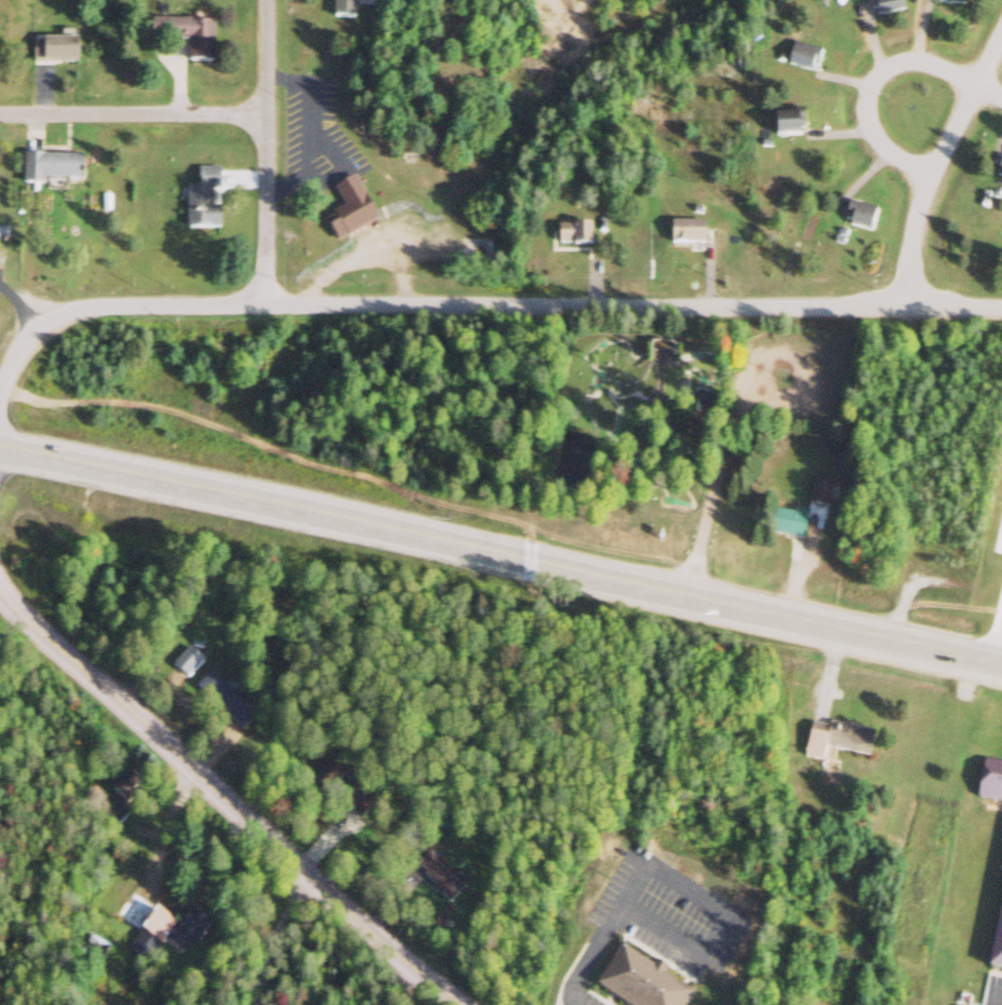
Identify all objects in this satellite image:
building: (949, 4)
building: (885, 8)
building: (351, 10)
road: (584, 10)
road: (607, 10)
building: (194, 39)
building: (61, 52)
building: (801, 61)
road: (869, 91)
road: (989, 95)
road: (133, 113)
building: (785, 128)
road: (267, 151)
road: (527, 165)
road: (934, 168)
building: (59, 169)
building: (999, 172)
building: (213, 200)
building: (359, 212)
building: (859, 219)
building: (5, 234)
building: (684, 235)
building: (571, 238)
road: (479, 305)
road: (21, 306)
road: (496, 520)
road: (336, 523)
building: (786, 525)
road: (837, 632)
building: (220, 699)
building: (835, 744)
building: (989, 782)
building: (124, 793)
road: (225, 801)
building: (440, 879)
building: (143, 923)
building: (996, 940)
road: (288, 942)
building: (637, 983)

